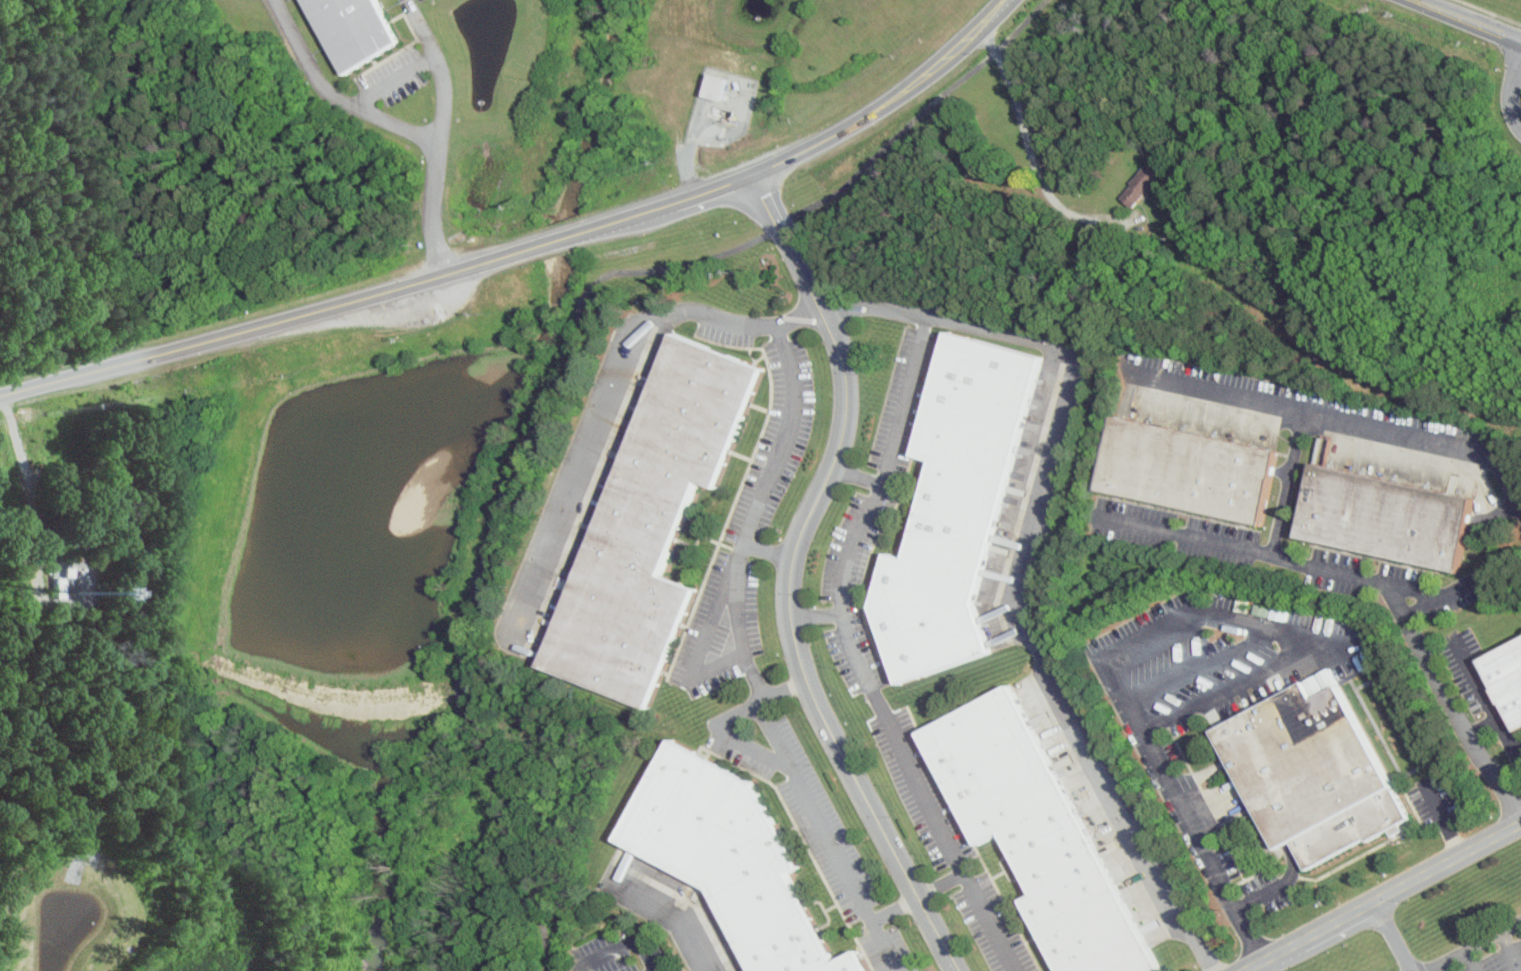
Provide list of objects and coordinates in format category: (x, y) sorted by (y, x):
road: (1489, 12)
road: (1466, 21)
road: (425, 27)
building: (360, 30)
road: (306, 57)
road: (394, 79)
building: (724, 85)
road: (1512, 94)
road: (921, 112)
road: (396, 121)
road: (817, 144)
road: (1029, 152)
road: (439, 164)
building: (1141, 185)
road: (780, 226)
road: (565, 237)
road: (270, 323)
road: (919, 346)
road: (601, 412)
road: (1343, 420)
building: (1197, 449)
road: (1284, 483)
building: (1391, 500)
building: (957, 502)
building: (653, 523)
road: (488, 536)
road: (766, 549)
road: (789, 577)
road: (1378, 580)
road: (1024, 606)
road: (816, 618)
road: (1181, 630)
road: (740, 640)
building: (1509, 672)
road: (868, 682)
road: (1230, 686)
road: (782, 689)
road: (726, 736)
building: (1312, 779)
building: (1038, 829)
building: (733, 857)
road: (1380, 895)
road: (893, 908)
road: (987, 922)
road: (675, 925)
road: (1390, 936)
road: (623, 944)
road: (1468, 944)
road: (1509, 950)
road: (1471, 958)

